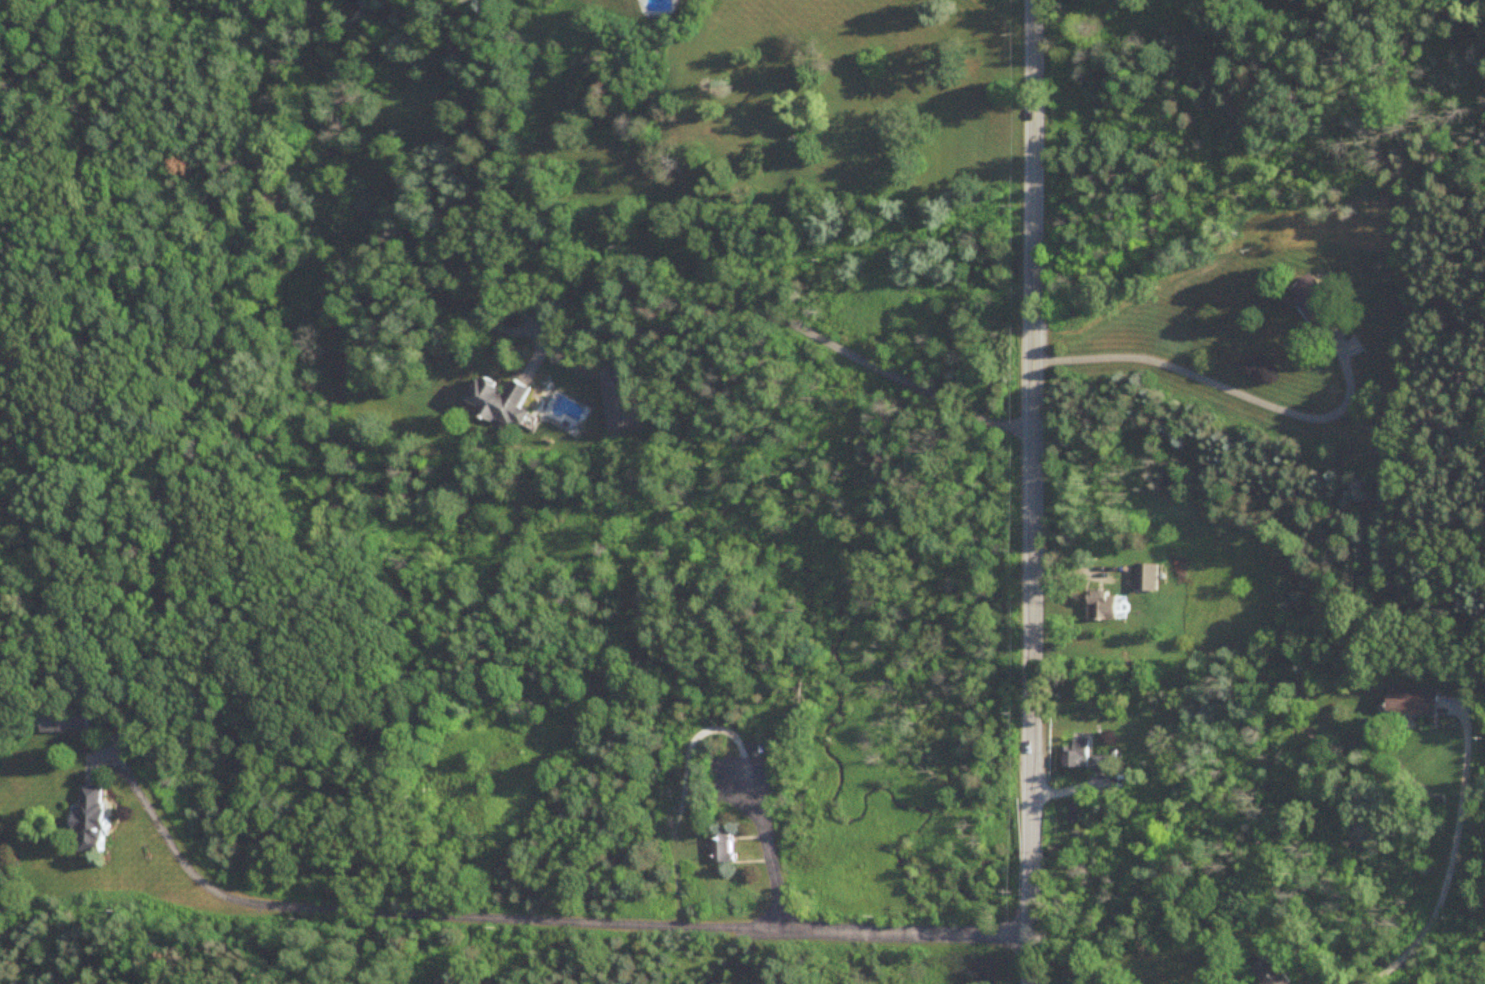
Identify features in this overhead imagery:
building: (1316, 299)
road: (813, 336)
road: (1221, 389)
building: (500, 403)
building: (619, 408)
road: (1030, 492)
building: (1144, 580)
building: (1102, 608)
building: (1410, 705)
building: (63, 723)
building: (1075, 758)
building: (1102, 766)
parking lot: (740, 782)
building: (89, 821)
building: (722, 850)
road: (1449, 861)
road: (415, 913)
road: (826, 929)
building: (1269, 974)

